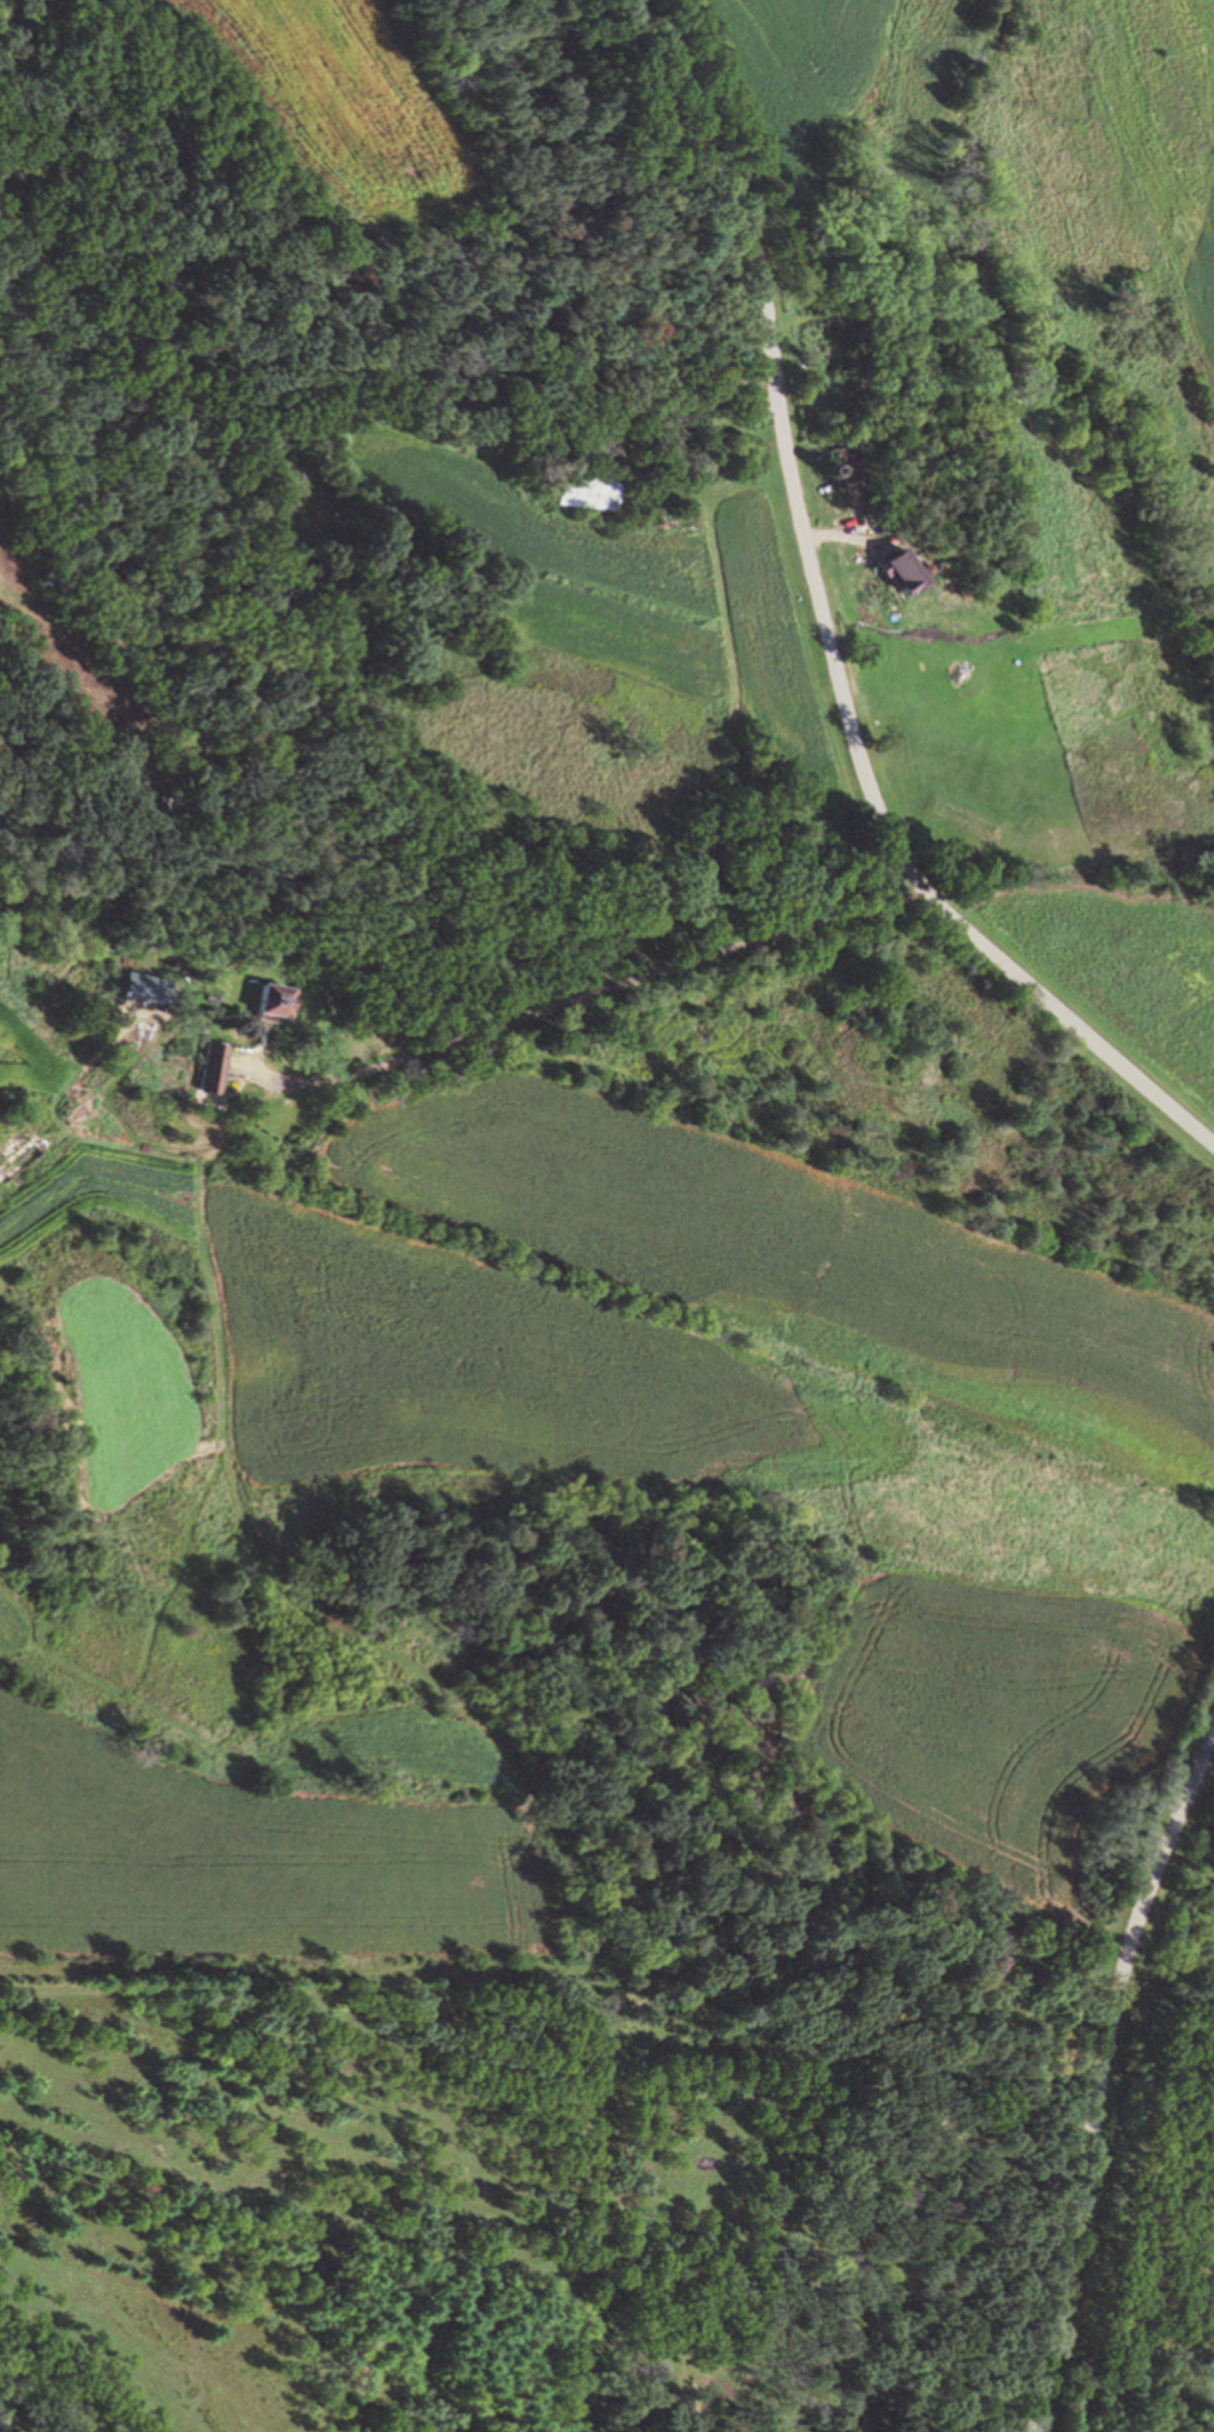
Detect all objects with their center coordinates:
building: (901, 311)
building: (869, 369)
building: (578, 383)
building: (903, 403)
building: (978, 430)
building: (851, 468)
building: (583, 489)
building: (900, 569)
road: (827, 630)
building: (143, 988)
road: (584, 996)
building: (276, 1000)
building: (209, 1066)
building: (18, 1151)
road: (1099, 2077)

